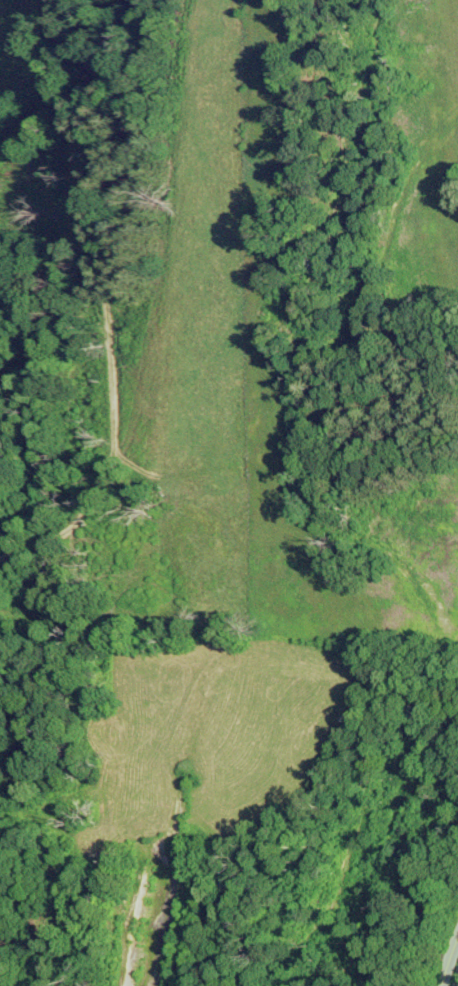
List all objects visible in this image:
road: (449, 956)

